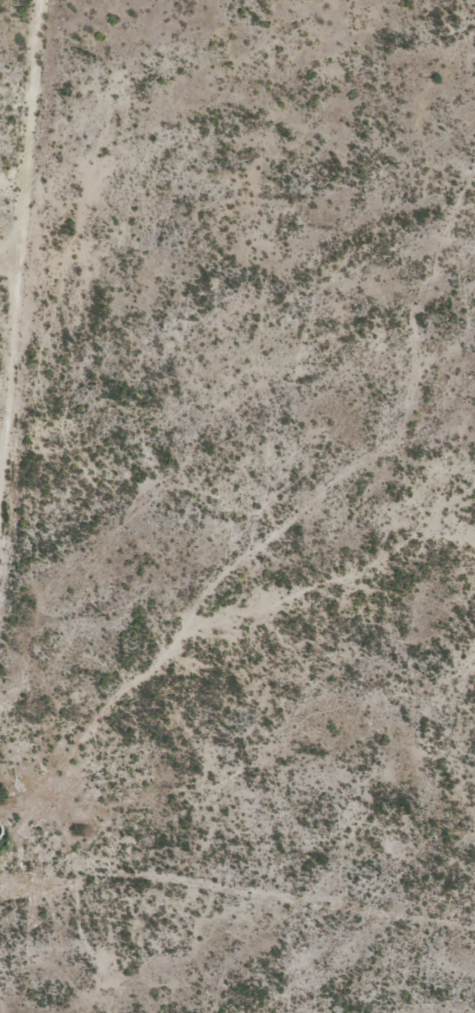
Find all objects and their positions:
road: (300, 518)

